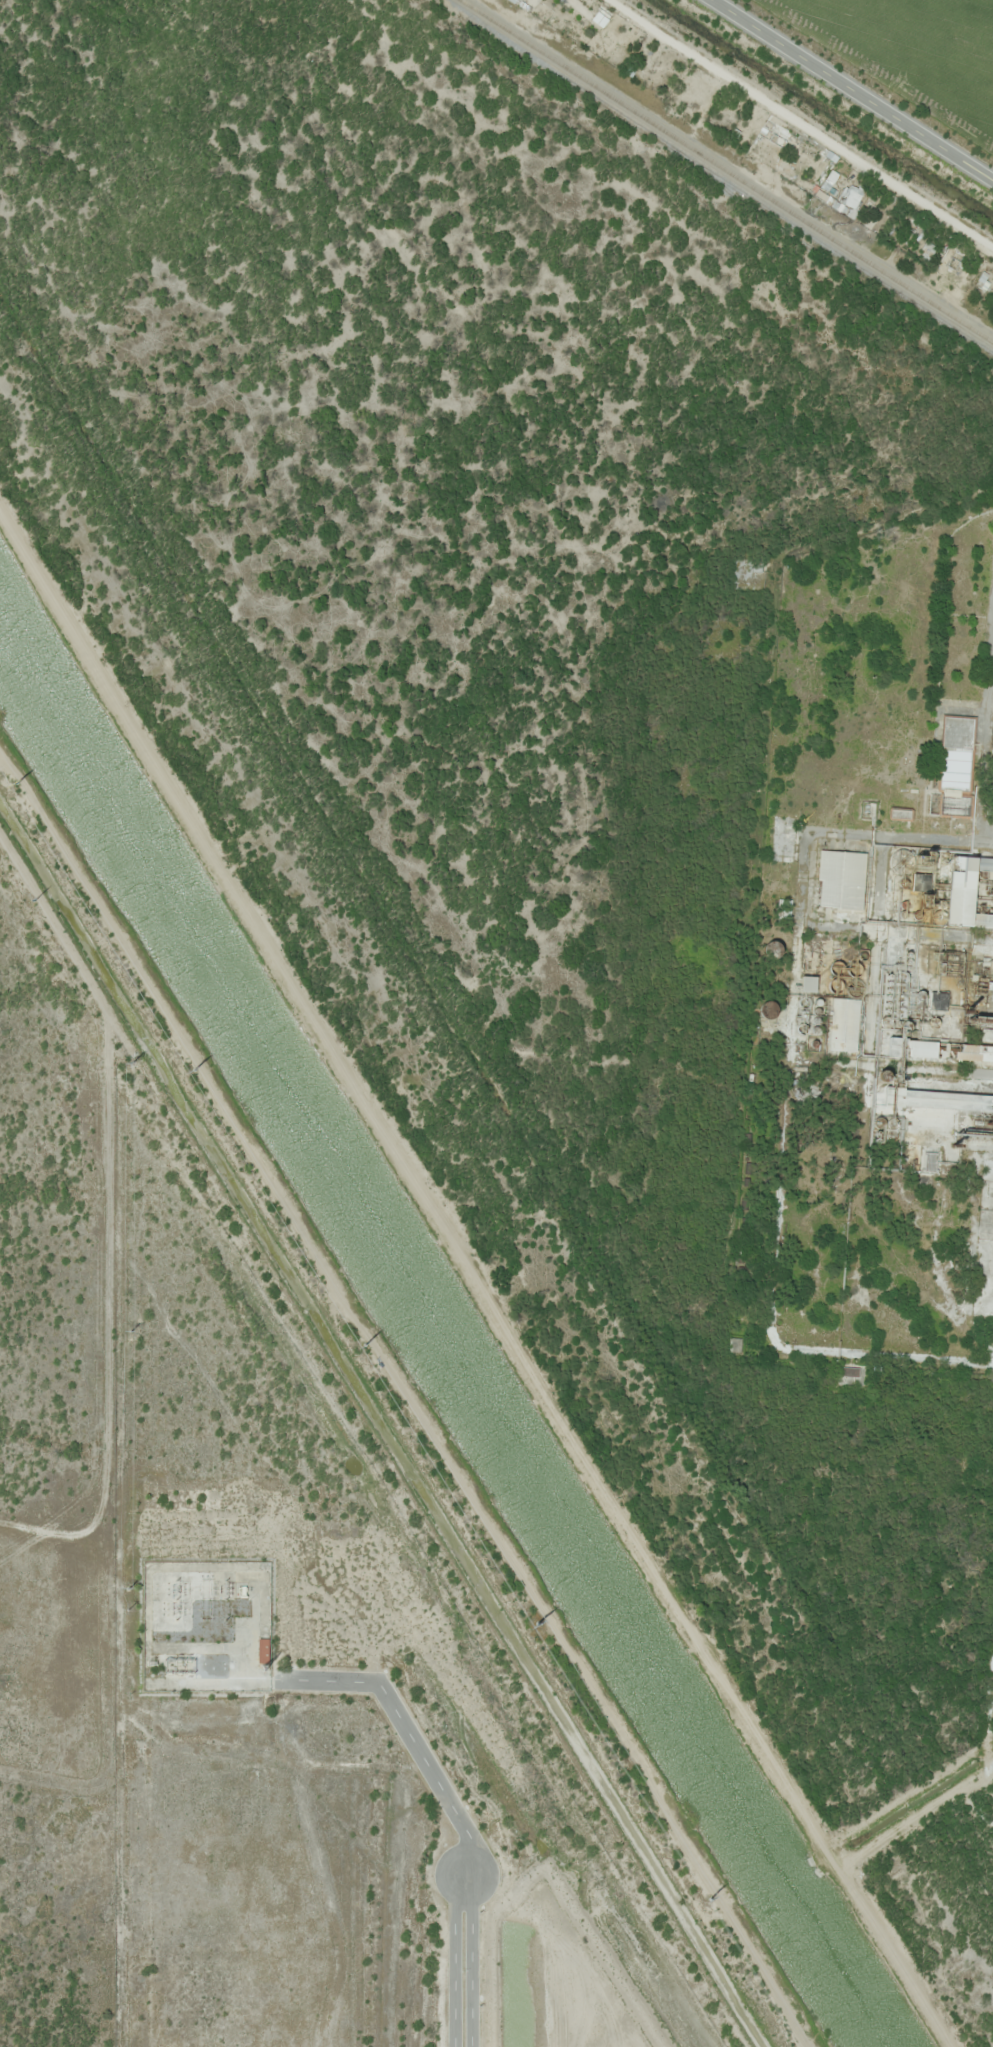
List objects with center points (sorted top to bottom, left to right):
power tower: (9, 774)
power tower: (46, 899)
power tower: (129, 1060)
power tower: (188, 1064)
power tower: (124, 1333)
power tower: (356, 1339)
power tower: (124, 1586)
power tower: (533, 1620)
power substation: (202, 1625)

